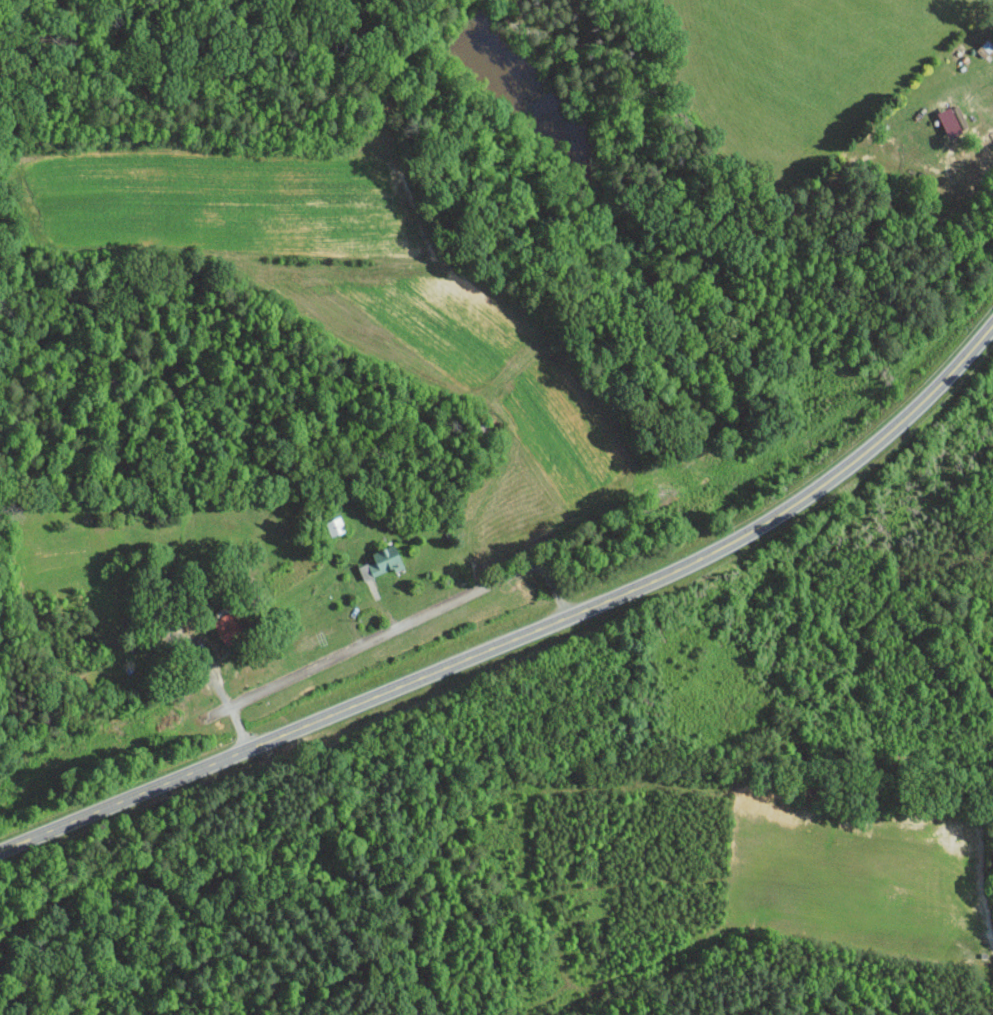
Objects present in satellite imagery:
building: (381, 562)
building: (227, 629)
road: (390, 629)
road: (525, 634)

